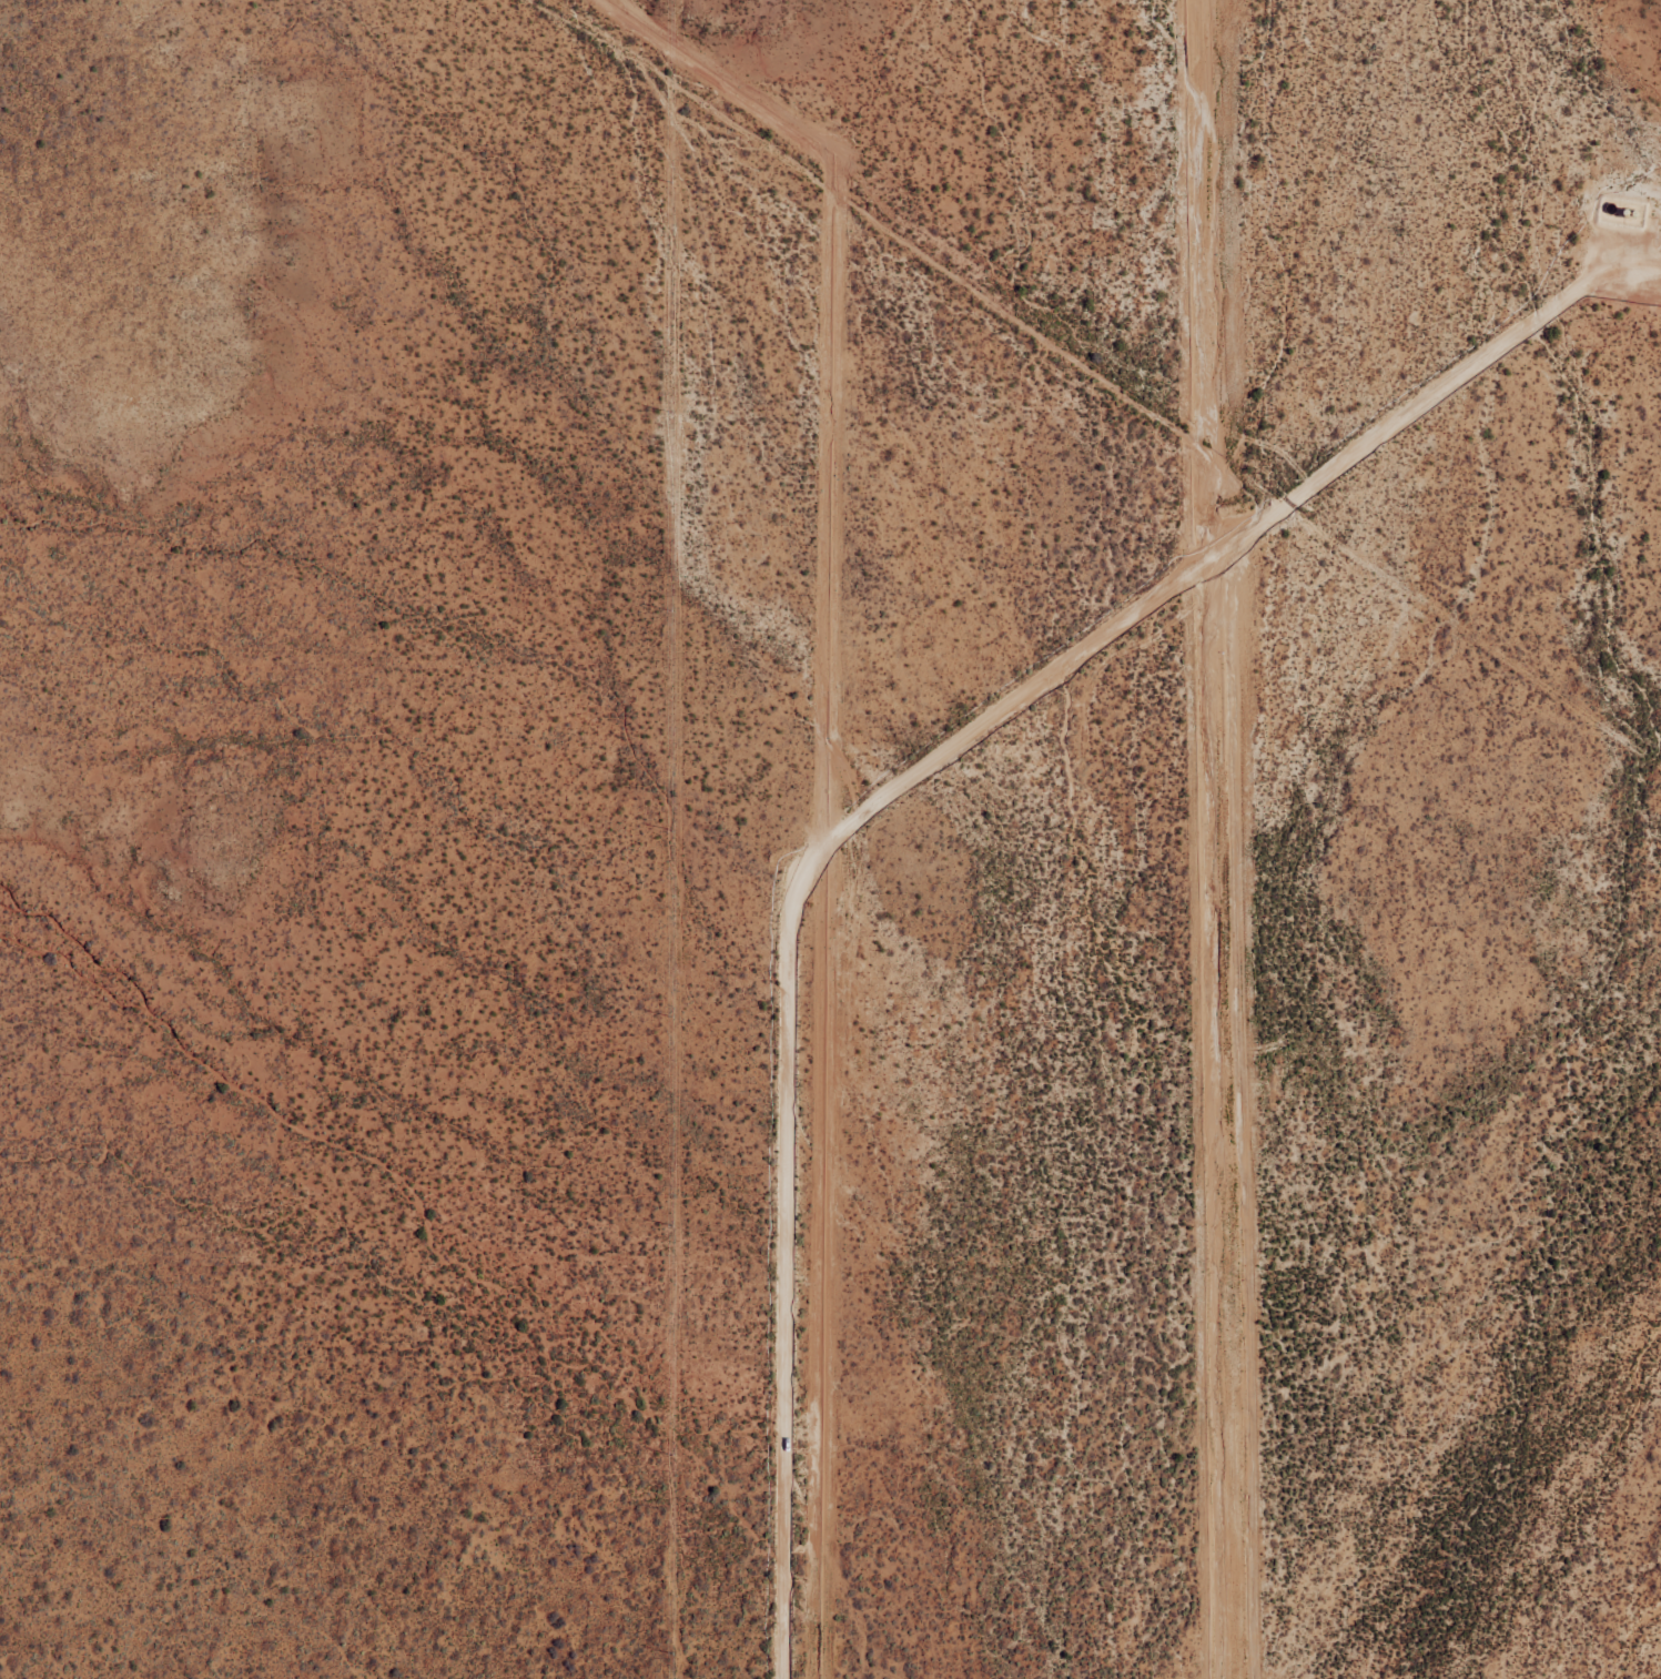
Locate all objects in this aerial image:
road: (888, 789)

